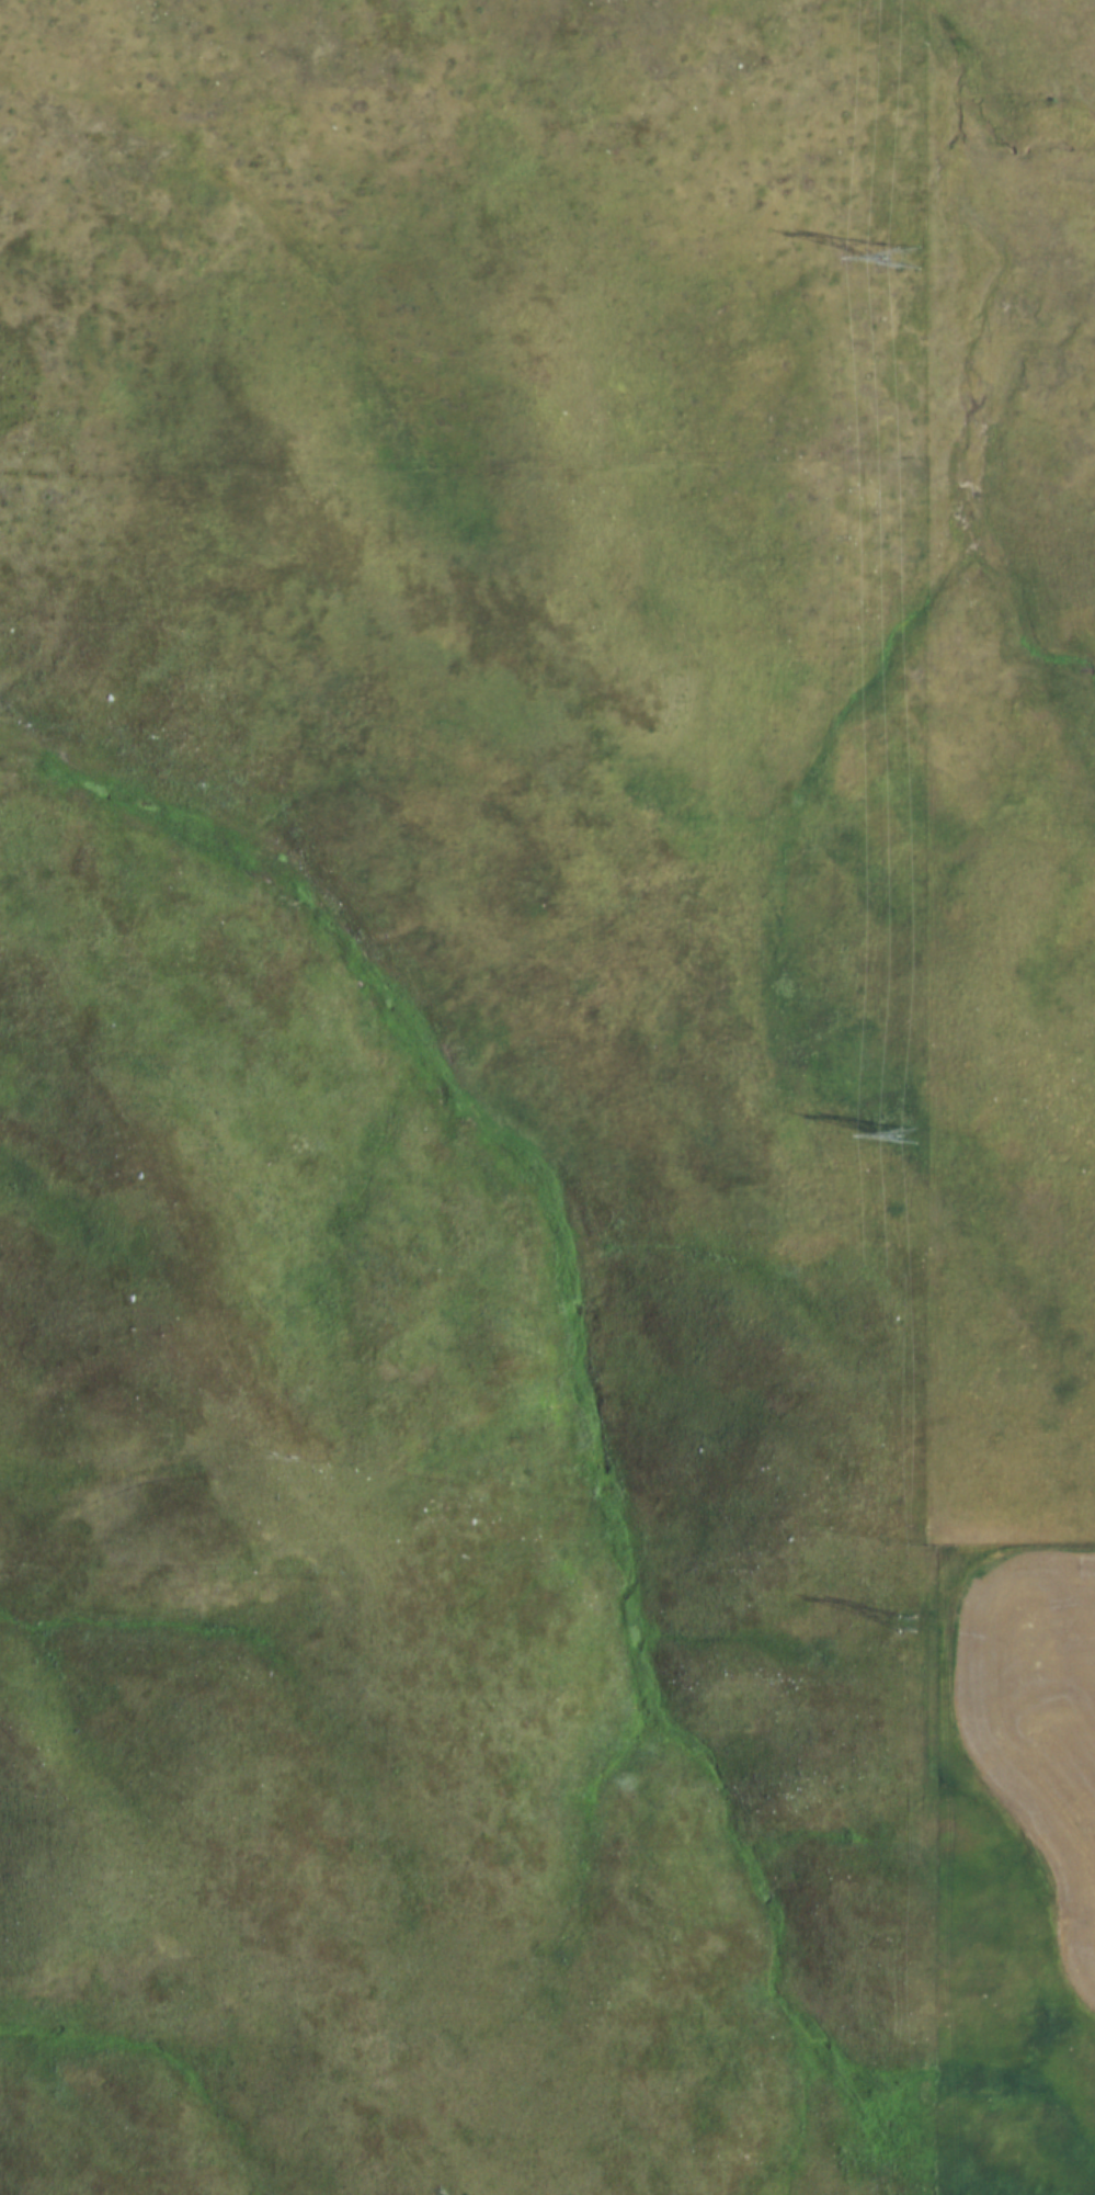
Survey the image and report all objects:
power tower: (905, 258)
power tower: (896, 1135)
power tower: (898, 1626)

